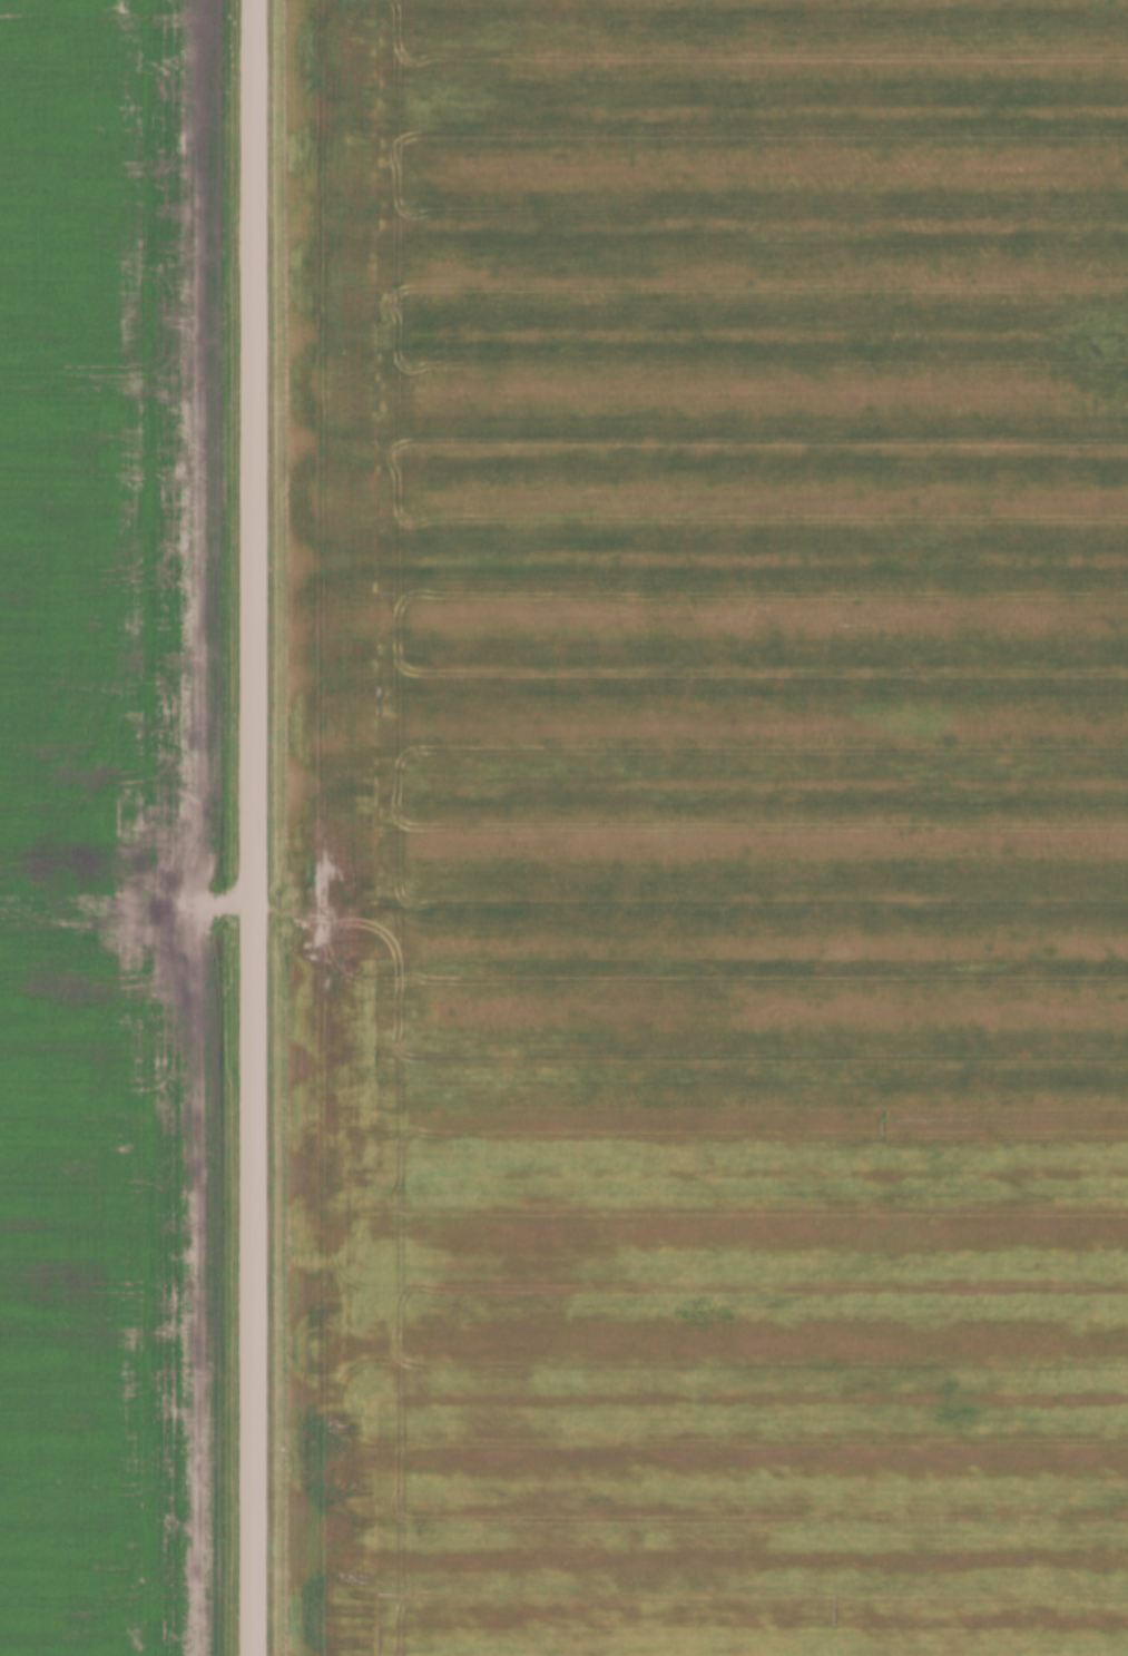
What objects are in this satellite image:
road: (252, 827)

